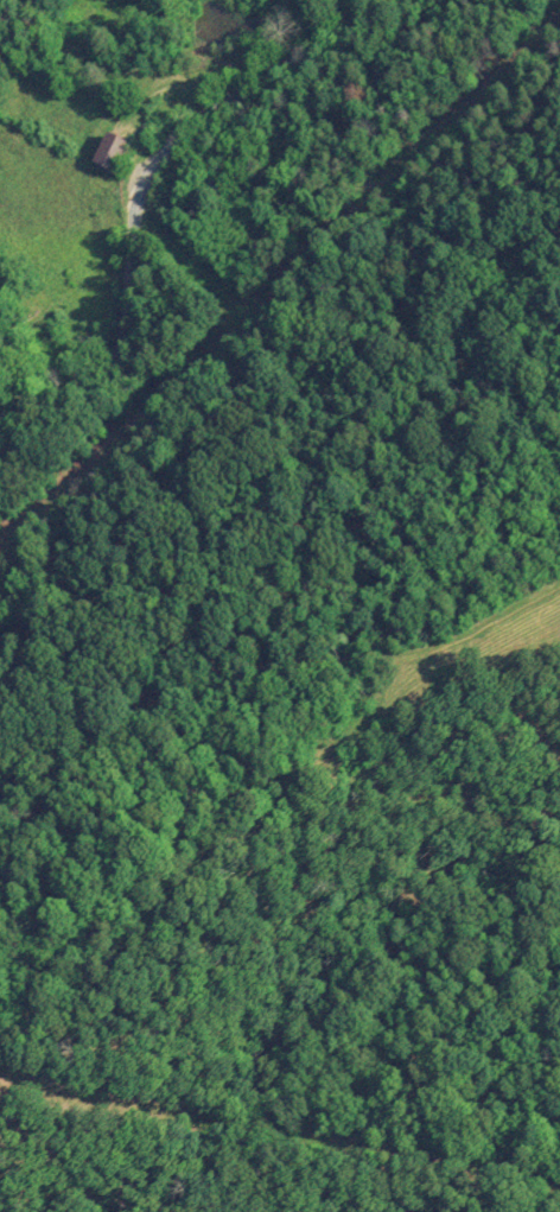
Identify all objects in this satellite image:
road: (203, 196)

